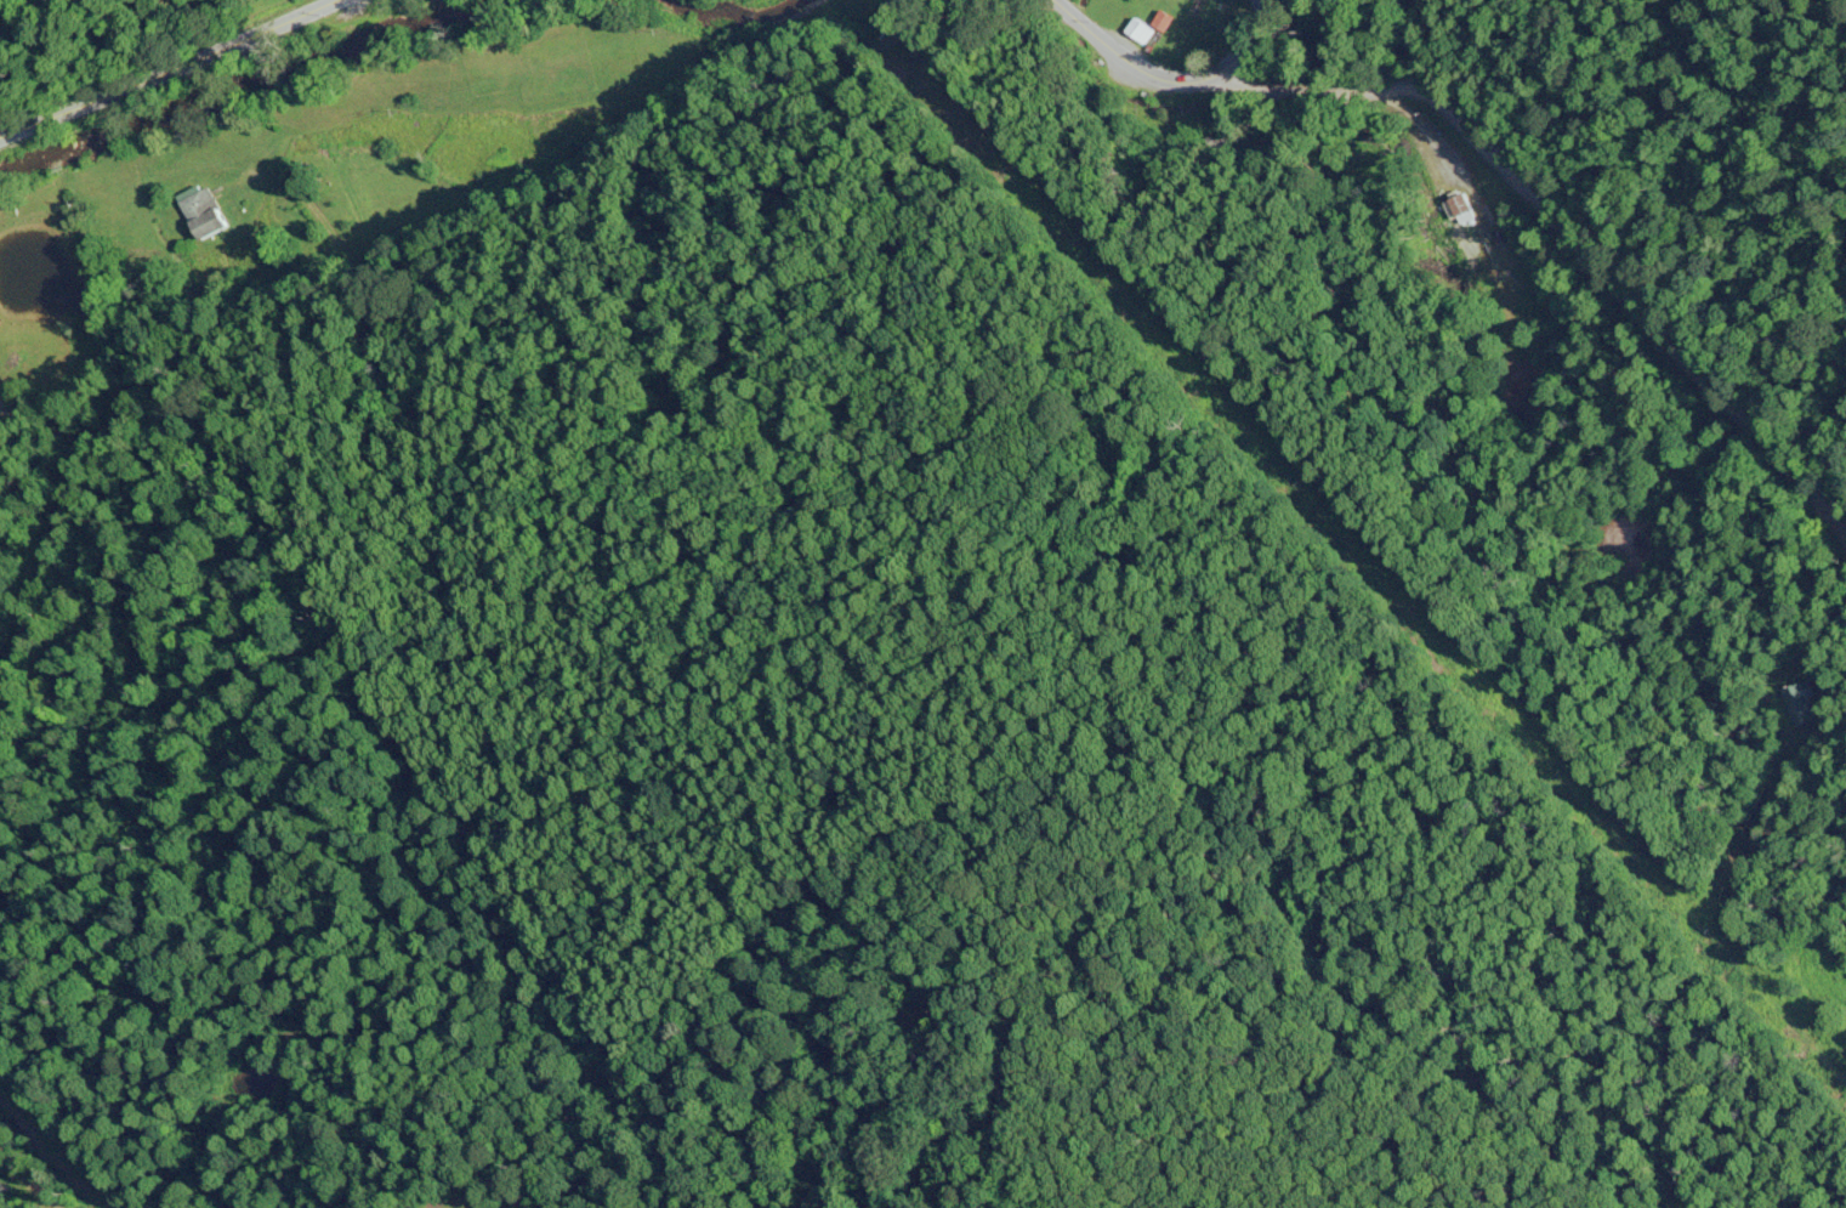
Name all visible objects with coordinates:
road: (163, 67)
road: (1165, 74)
road: (1568, 229)

